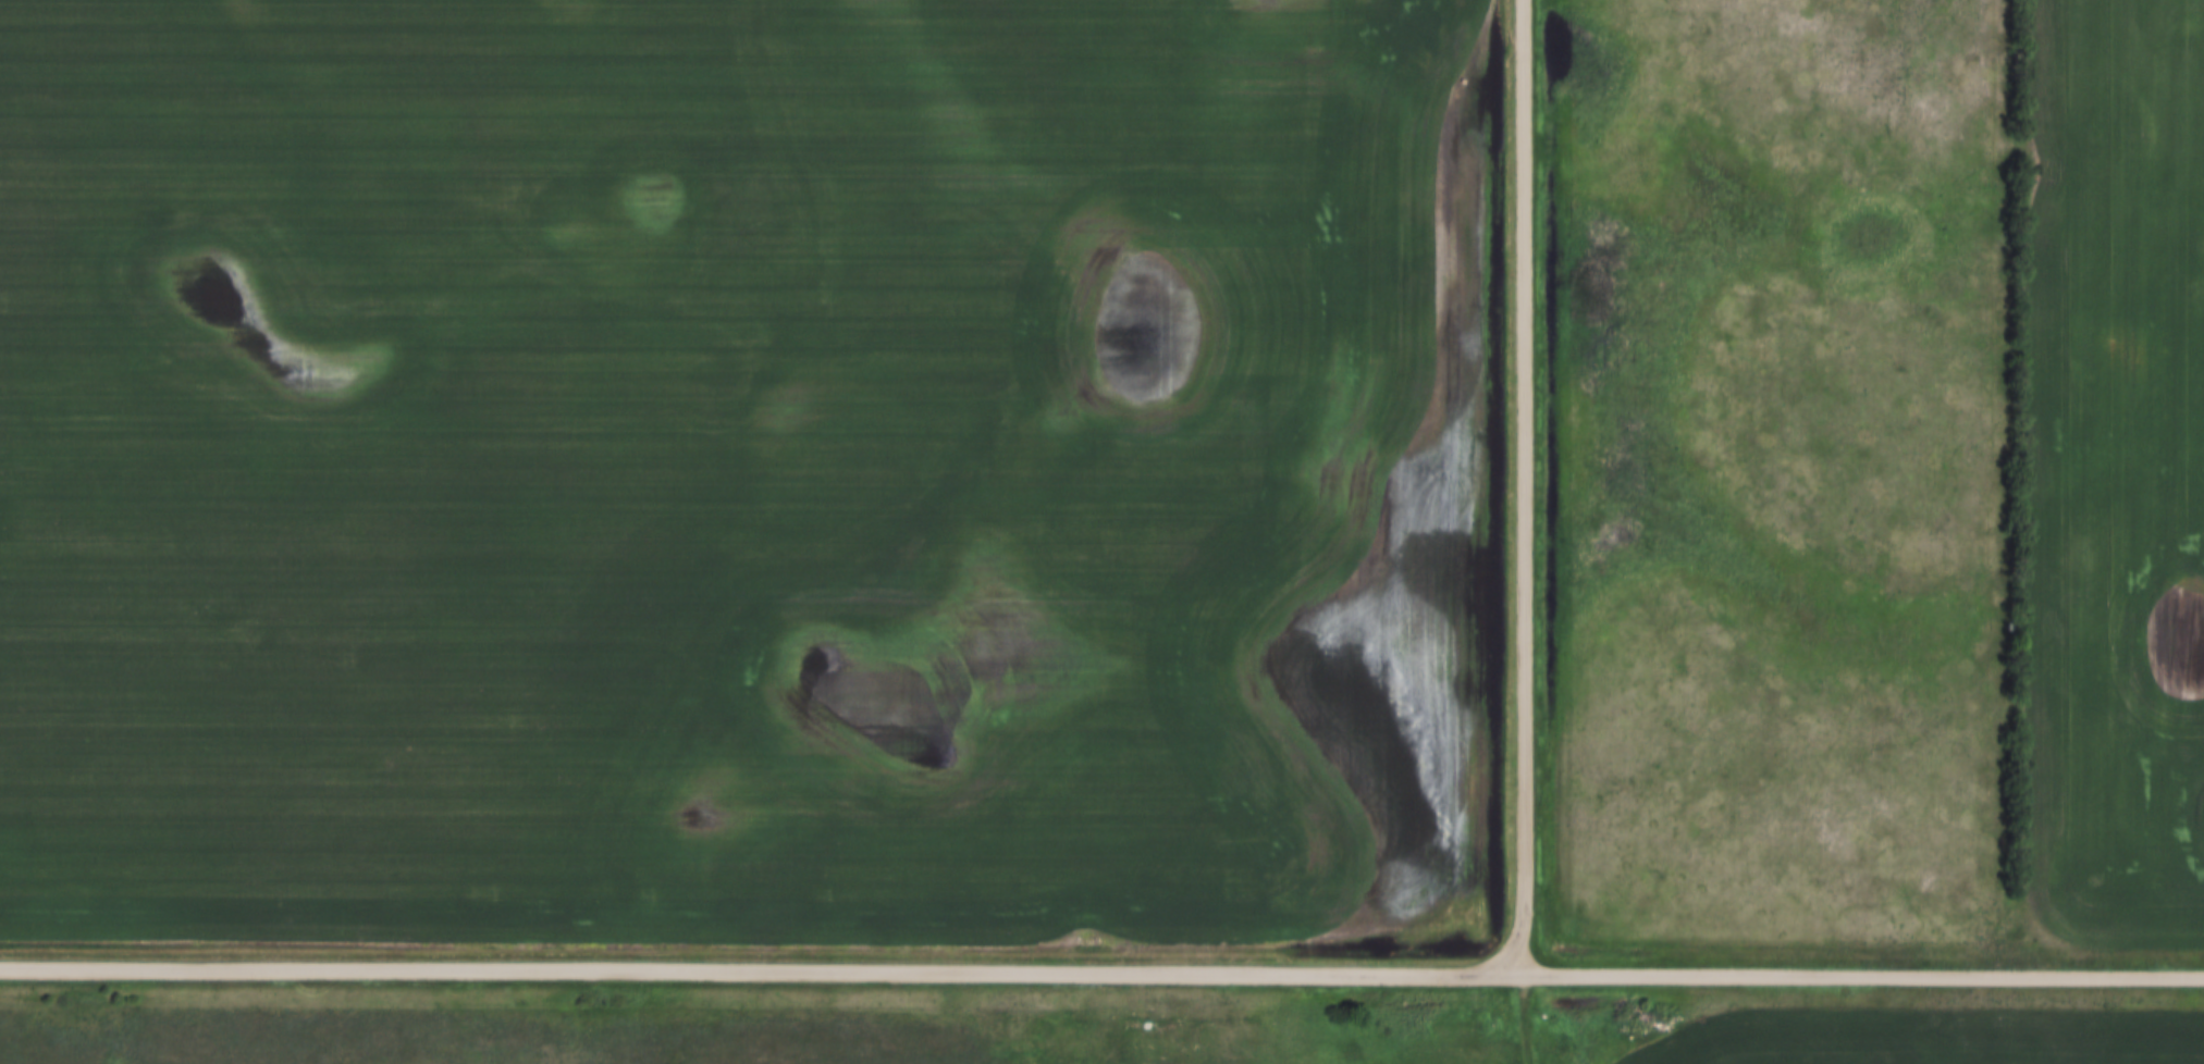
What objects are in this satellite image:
road: (1527, 485)
road: (1101, 970)

